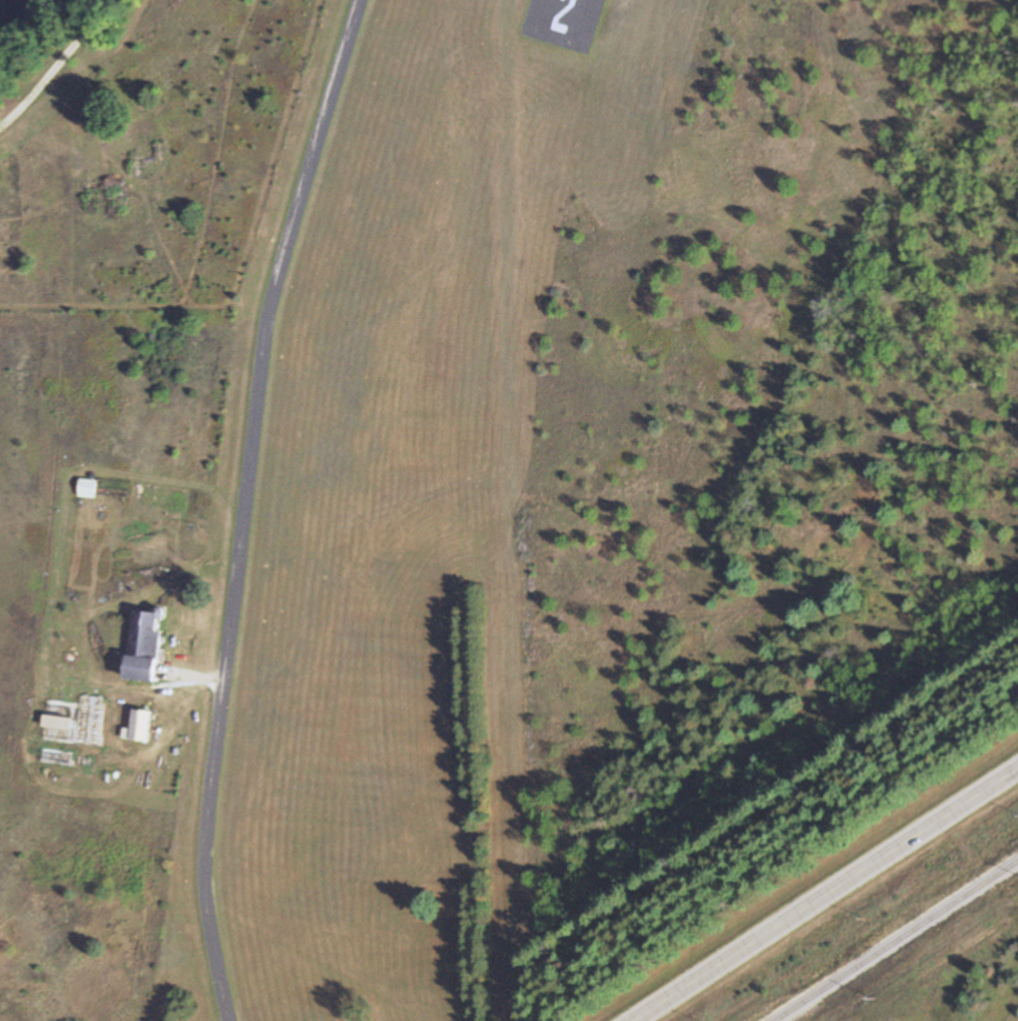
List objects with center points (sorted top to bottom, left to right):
airport runway: (565, 16)
airport: (617, 455)
building: (88, 488)
road: (246, 505)
building: (145, 648)
building: (142, 726)
road: (825, 895)
railway: (896, 941)

